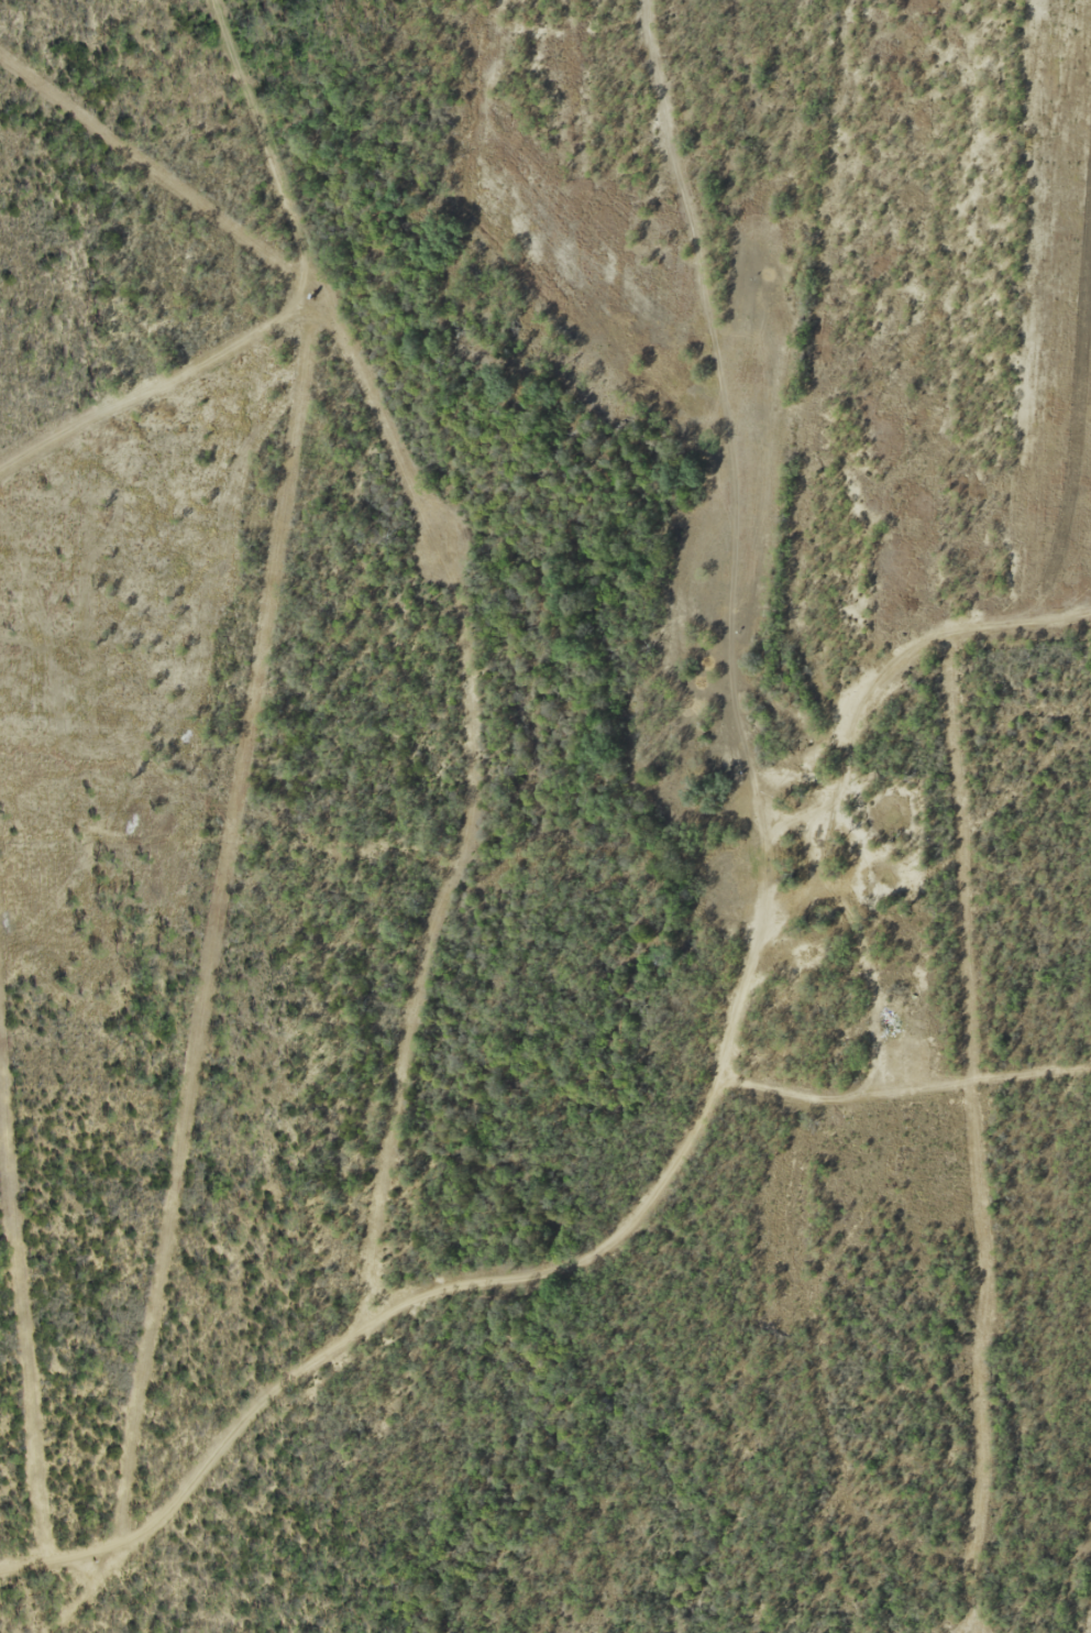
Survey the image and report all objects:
road: (241, 768)
road: (471, 799)
road: (649, 1195)
road: (30, 1576)

